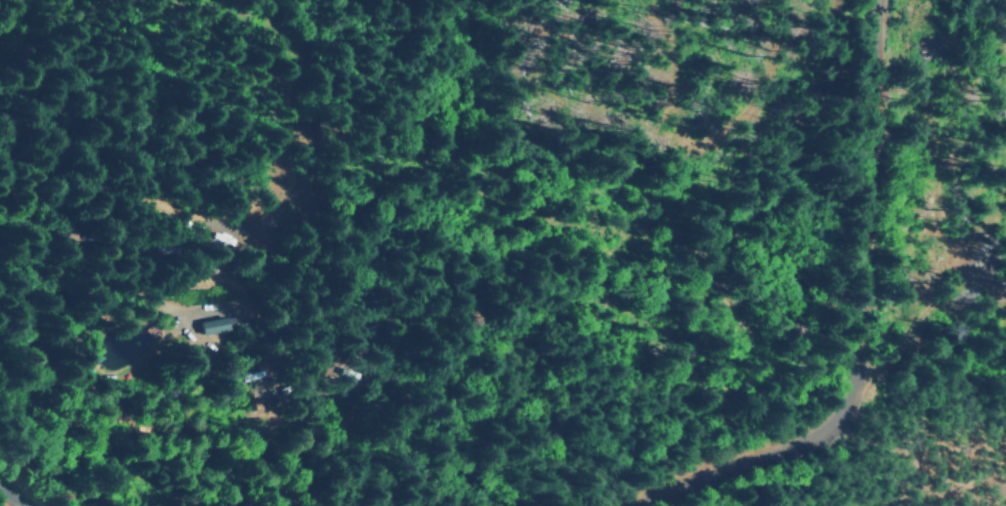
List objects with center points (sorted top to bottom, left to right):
road: (176, 258)
road: (823, 285)
building: (210, 326)
road: (1, 403)
road: (15, 495)

